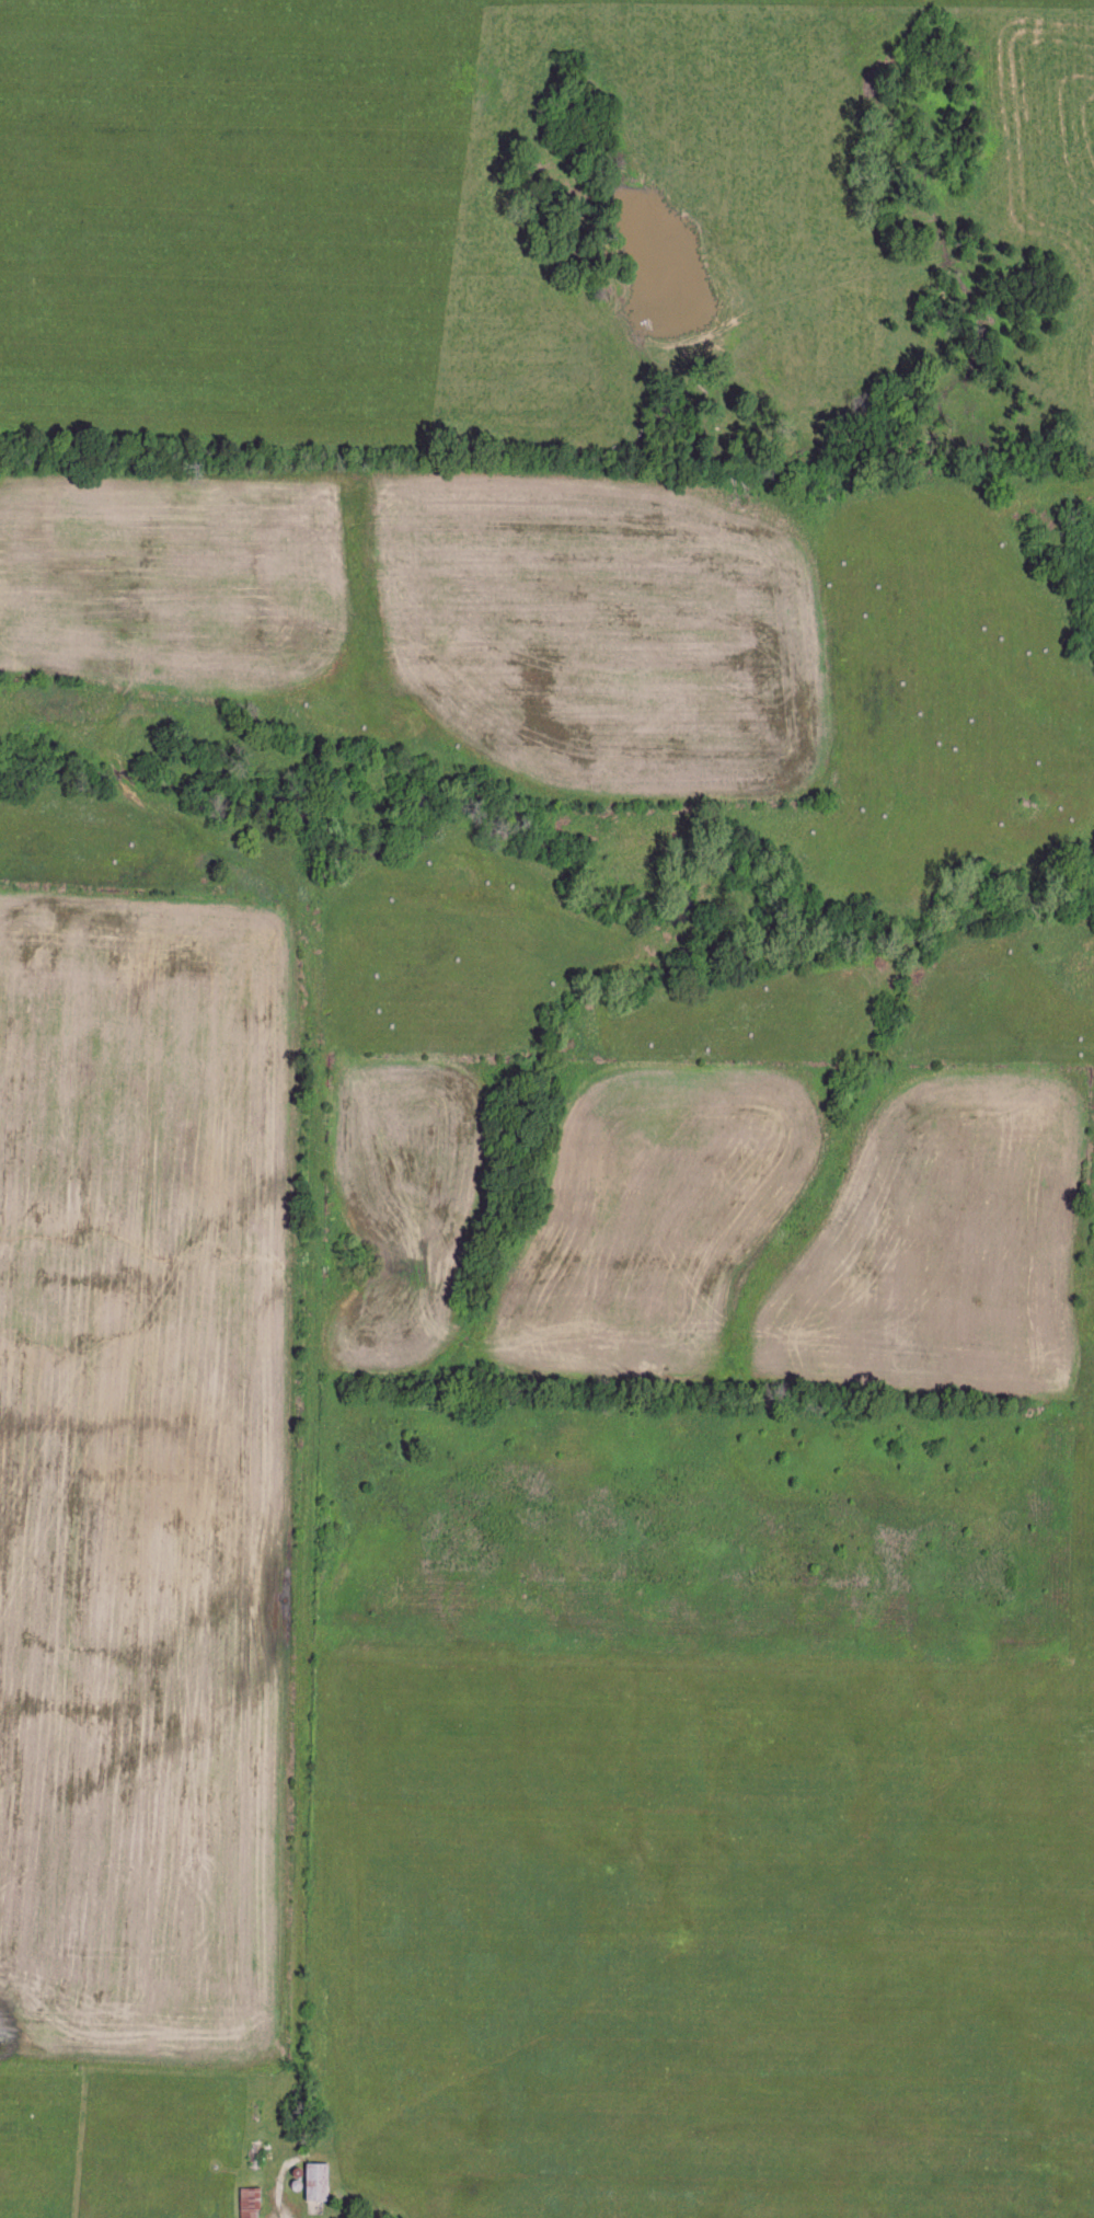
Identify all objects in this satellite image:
building: (315, 2177)
building: (249, 2200)

